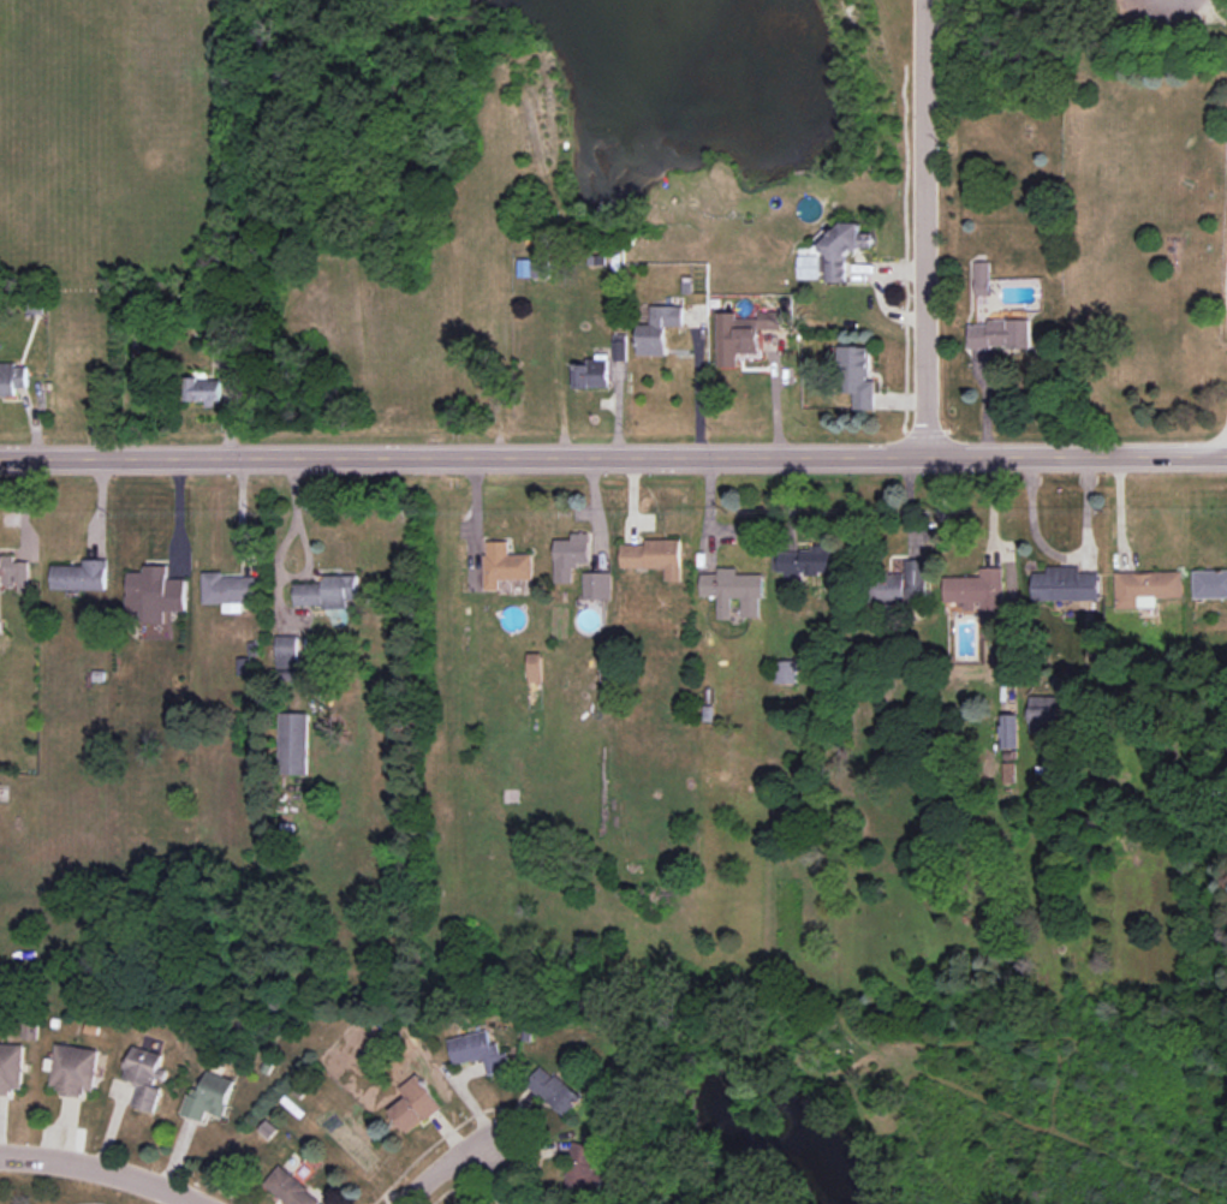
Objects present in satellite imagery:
park: (1152, 208)
road: (925, 227)
building: (842, 249)
building: (534, 268)
building: (983, 278)
building: (770, 320)
building: (659, 329)
building: (1002, 333)
building: (735, 336)
building: (209, 338)
building: (620, 347)
building: (592, 374)
building: (857, 375)
building: (12, 377)
building: (204, 391)
road: (613, 457)
building: (571, 555)
building: (654, 556)
building: (805, 562)
building: (505, 564)
building: (14, 572)
building: (79, 576)
building: (904, 583)
building: (1066, 584)
building: (1210, 584)
building: (597, 585)
building: (1146, 588)
building: (230, 590)
building: (733, 590)
building: (328, 591)
building: (154, 594)
building: (981, 597)
building: (288, 651)
building: (535, 667)
building: (785, 672)
building: (1048, 715)
building: (1008, 731)
building: (293, 743)
building: (480, 1051)
building: (11, 1067)
building: (75, 1069)
building: (145, 1077)
building: (554, 1090)
building: (209, 1096)
building: (416, 1104)
road: (446, 1164)
building: (584, 1166)
road: (105, 1167)
building: (291, 1188)

